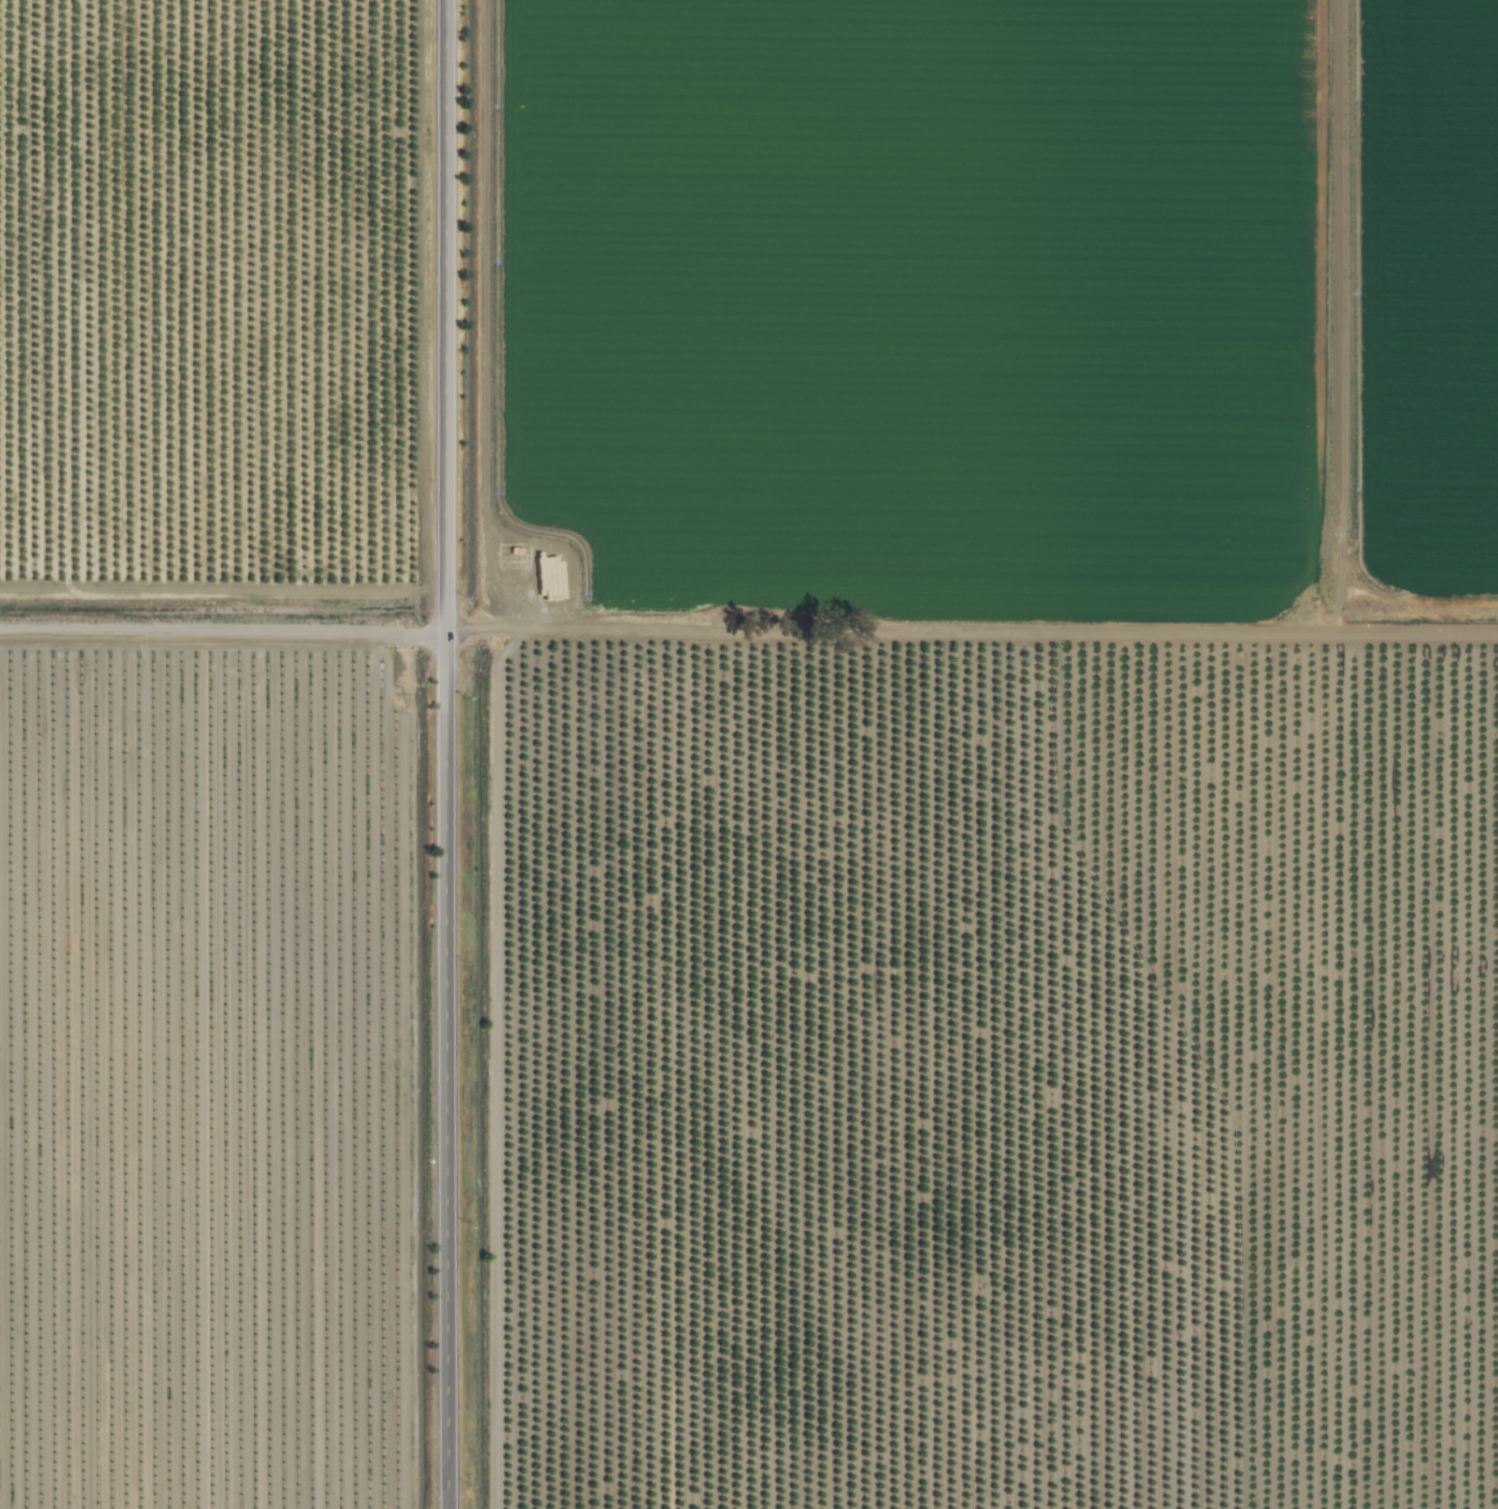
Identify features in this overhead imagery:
road: (244, 631)
road: (447, 754)

